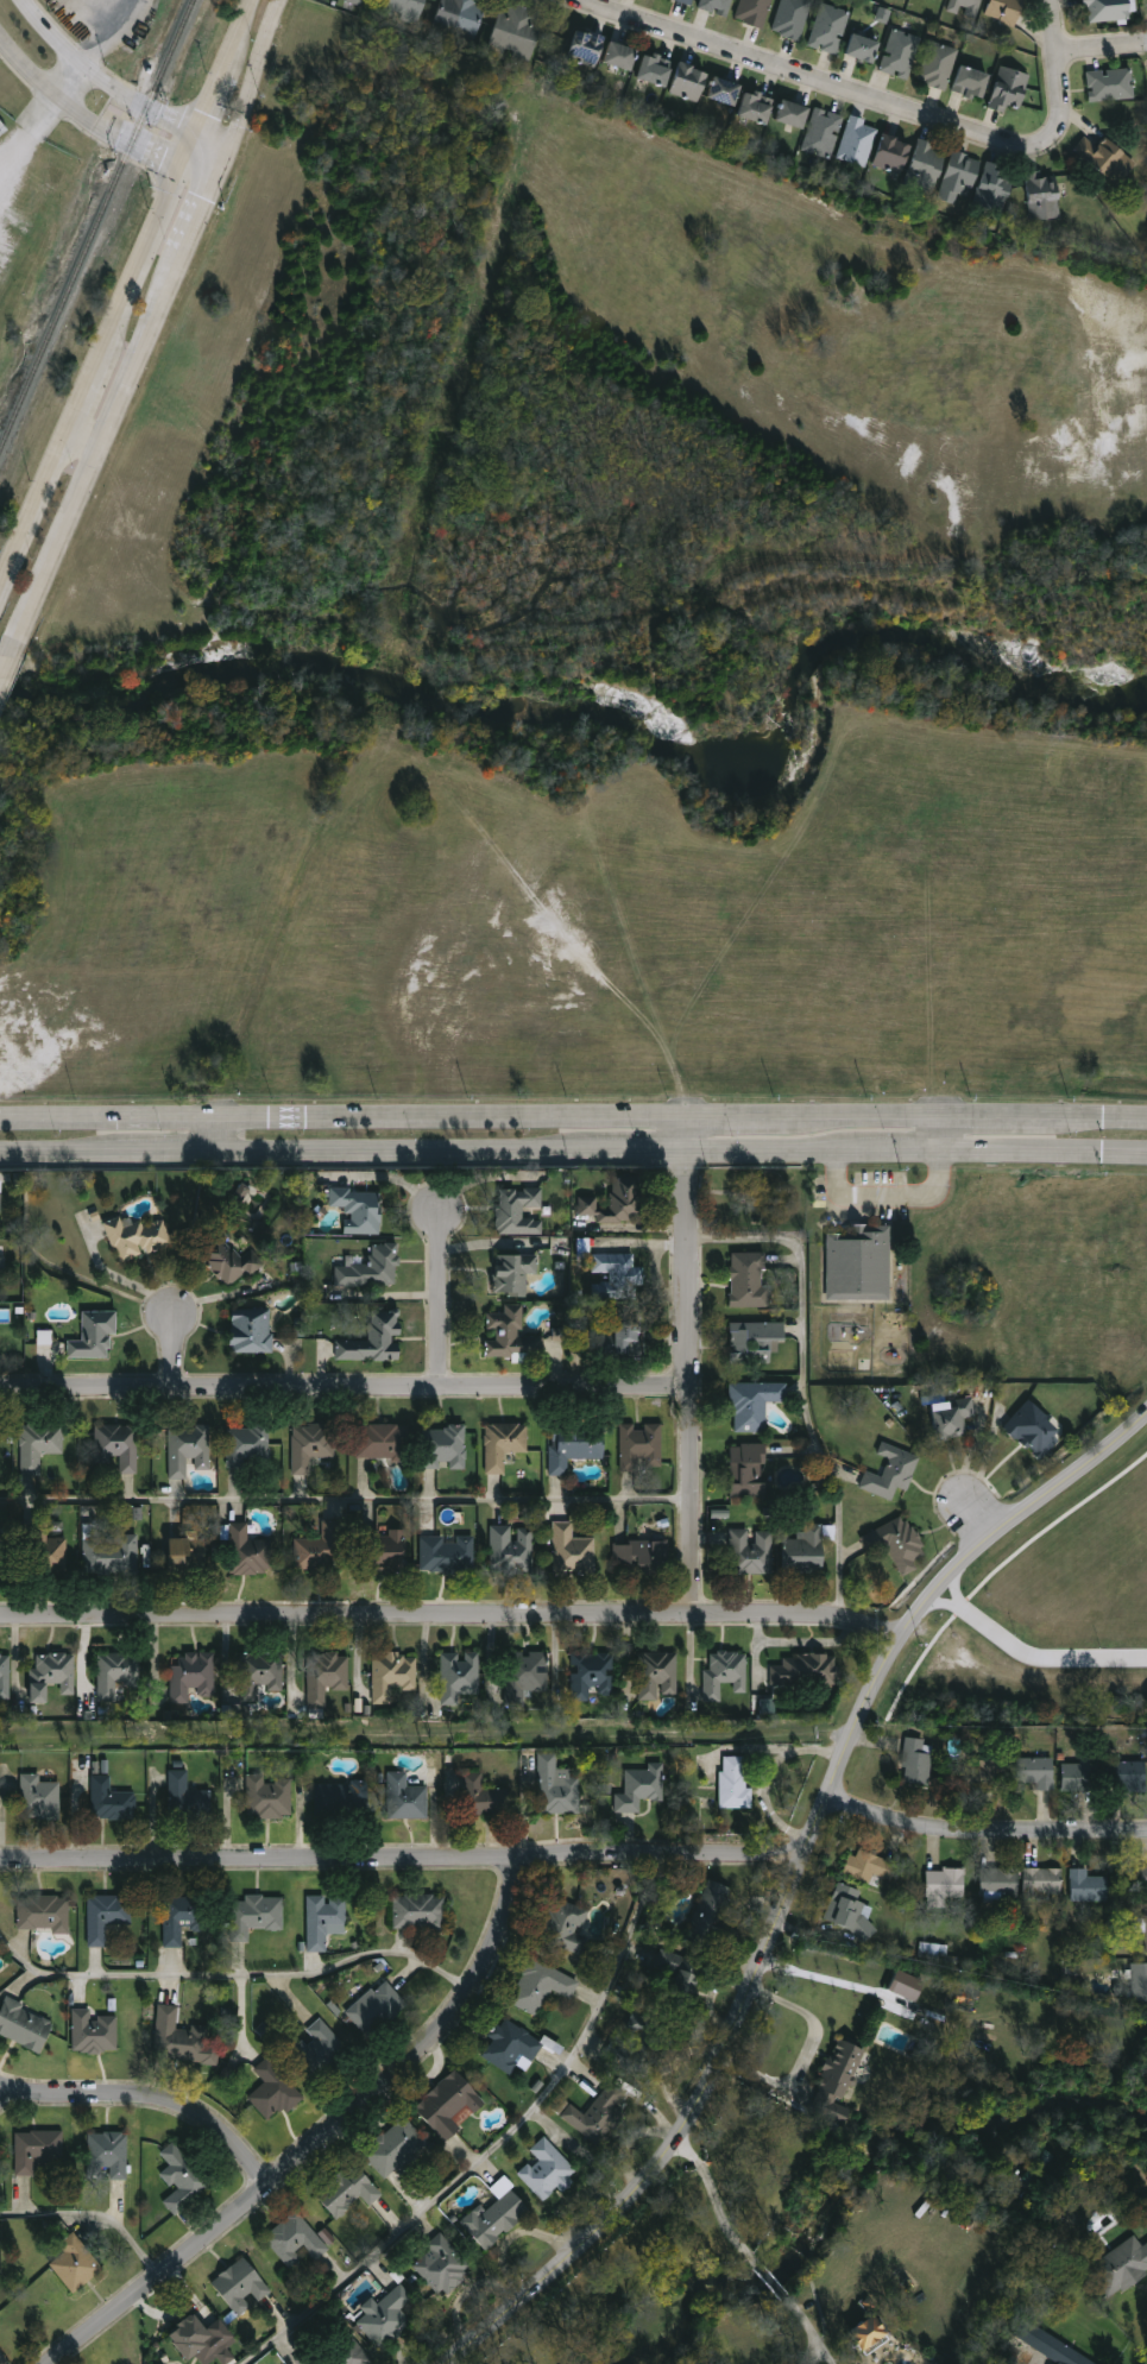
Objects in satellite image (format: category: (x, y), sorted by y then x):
building: (359, 1)
building: (687, 1)
building: (716, 6)
building: (966, 7)
building: (405, 8)
building: (1110, 10)
building: (1006, 11)
building: (754, 12)
building: (464, 18)
building: (792, 18)
building: (830, 29)
building: (519, 31)
road: (242, 32)
road: (120, 38)
building: (863, 48)
building: (588, 49)
road: (1099, 49)
building: (901, 55)
building: (623, 56)
building: (938, 65)
road: (229, 70)
building: (656, 70)
road: (1055, 71)
road: (102, 77)
road: (809, 80)
building: (972, 82)
building: (691, 83)
road: (251, 84)
building: (1110, 84)
road: (73, 86)
building: (1010, 89)
building: (726, 92)
road: (213, 107)
building: (758, 107)
building: (794, 114)
road: (83, 118)
road: (26, 128)
building: (824, 133)
traffic signals: (198, 139)
building: (858, 141)
road: (208, 155)
building: (893, 155)
road: (190, 156)
building: (1109, 158)
building: (928, 166)
traffic signals: (218, 170)
road: (200, 171)
traffic signals: (183, 174)
building: (962, 177)
building: (997, 187)
building: (1046, 195)
road: (201, 210)
railway: (97, 223)
road: (144, 269)
road: (144, 347)
road: (89, 398)
road: (89, 437)
road: (37, 513)
road: (59, 542)
road: (7, 657)
road: (731, 1111)
road: (342, 1112)
road: (857, 1114)
road: (990, 1115)
road: (1094, 1117)
road: (687, 1127)
road: (222, 1129)
road: (938, 1131)
road: (637, 1145)
road: (404, 1146)
road: (767, 1146)
road: (57, 1147)
road: (168, 1147)
road: (893, 1148)
road: (1042, 1151)
building: (240, 1192)
road: (888, 1196)
park: (755, 1202)
building: (0, 1203)
building: (617, 1203)
building: (360, 1210)
building: (521, 1212)
building: (139, 1237)
building: (582, 1248)
building: (232, 1262)
building: (859, 1262)
building: (2, 1263)
building: (371, 1269)
building: (513, 1273)
building: (617, 1276)
building: (749, 1281)
road: (126, 1284)
road: (441, 1299)
building: (251, 1331)
building: (557, 1334)
building: (95, 1336)
building: (511, 1336)
building: (629, 1338)
building: (373, 1339)
building: (756, 1344)
road: (176, 1349)
road: (688, 1380)
road: (805, 1381)
road: (345, 1387)
building: (755, 1405)
building: (949, 1424)
building: (1032, 1431)
building: (383, 1443)
building: (40, 1445)
building: (503, 1445)
building: (119, 1446)
building: (248, 1446)
building: (311, 1446)
building: (443, 1448)
building: (575, 1448)
building: (641, 1448)
building: (188, 1450)
building: (749, 1471)
building: (890, 1473)
road: (346, 1499)
road: (975, 1518)
building: (895, 1544)
building: (321, 1549)
building: (512, 1550)
building: (385, 1551)
building: (572, 1551)
building: (806, 1551)
building: (42, 1552)
building: (248, 1552)
building: (751, 1552)
building: (188, 1555)
building: (448, 1555)
building: (2, 1556)
building: (111, 1556)
building: (641, 1558)
road: (450, 1616)
road: (1031, 1656)
building: (806, 1671)
building: (116, 1673)
building: (726, 1673)
building: (261, 1675)
building: (52, 1676)
building: (395, 1676)
building: (5, 1677)
building: (194, 1677)
building: (327, 1677)
building: (527, 1677)
building: (593, 1677)
building: (658, 1677)
building: (459, 1679)
building: (244, 1711)
park: (423, 1734)
building: (915, 1763)
building: (1032, 1773)
building: (977, 1776)
building: (1078, 1776)
building: (1124, 1776)
building: (735, 1784)
building: (557, 1789)
building: (642, 1789)
building: (481, 1796)
building: (270, 1797)
building: (40, 1798)
building: (188, 1798)
building: (342, 1798)
building: (407, 1798)
building: (112, 1801)
road: (983, 1834)
road: (401, 1864)
building: (869, 1867)
building: (1143, 1878)
building: (941, 1885)
building: (996, 1885)
building: (1040, 1885)
road: (790, 1887)
building: (1085, 1887)
building: (420, 1911)
building: (846, 1911)
building: (45, 1914)
building: (713, 1914)
building: (256, 1916)
building: (108, 1917)
building: (184, 1917)
building: (326, 1921)
building: (567, 1925)
building: (1145, 1934)
building: (933, 1950)
road: (233, 1974)
building: (1137, 1982)
building: (673, 1985)
building: (541, 1986)
building: (378, 2011)
building: (25, 2025)
building: (96, 2034)
building: (184, 2040)
building: (512, 2047)
building: (637, 2047)
building: (322, 2053)
road: (805, 2055)
building: (834, 2081)
building: (275, 2092)
road: (151, 2100)
building: (450, 2105)
building: (598, 2117)
road: (323, 2139)
road: (493, 2145)
building: (397, 2149)
building: (40, 2152)
building: (108, 2156)
building: (548, 2171)
building: (183, 2180)
building: (349, 2192)
road: (716, 2201)
building: (1143, 2202)
building: (497, 2217)
road: (92, 2220)
building: (296, 2240)
road: (523, 2244)
building: (78, 2265)
building: (443, 2267)
building: (1120, 2267)
road: (773, 2280)
building: (242, 2287)
building: (387, 2318)
road: (808, 2320)
building: (187, 2334)
building: (866, 2335)
building: (1052, 2350)
building: (336, 2354)
road: (814, 2356)
road: (830, 2356)

